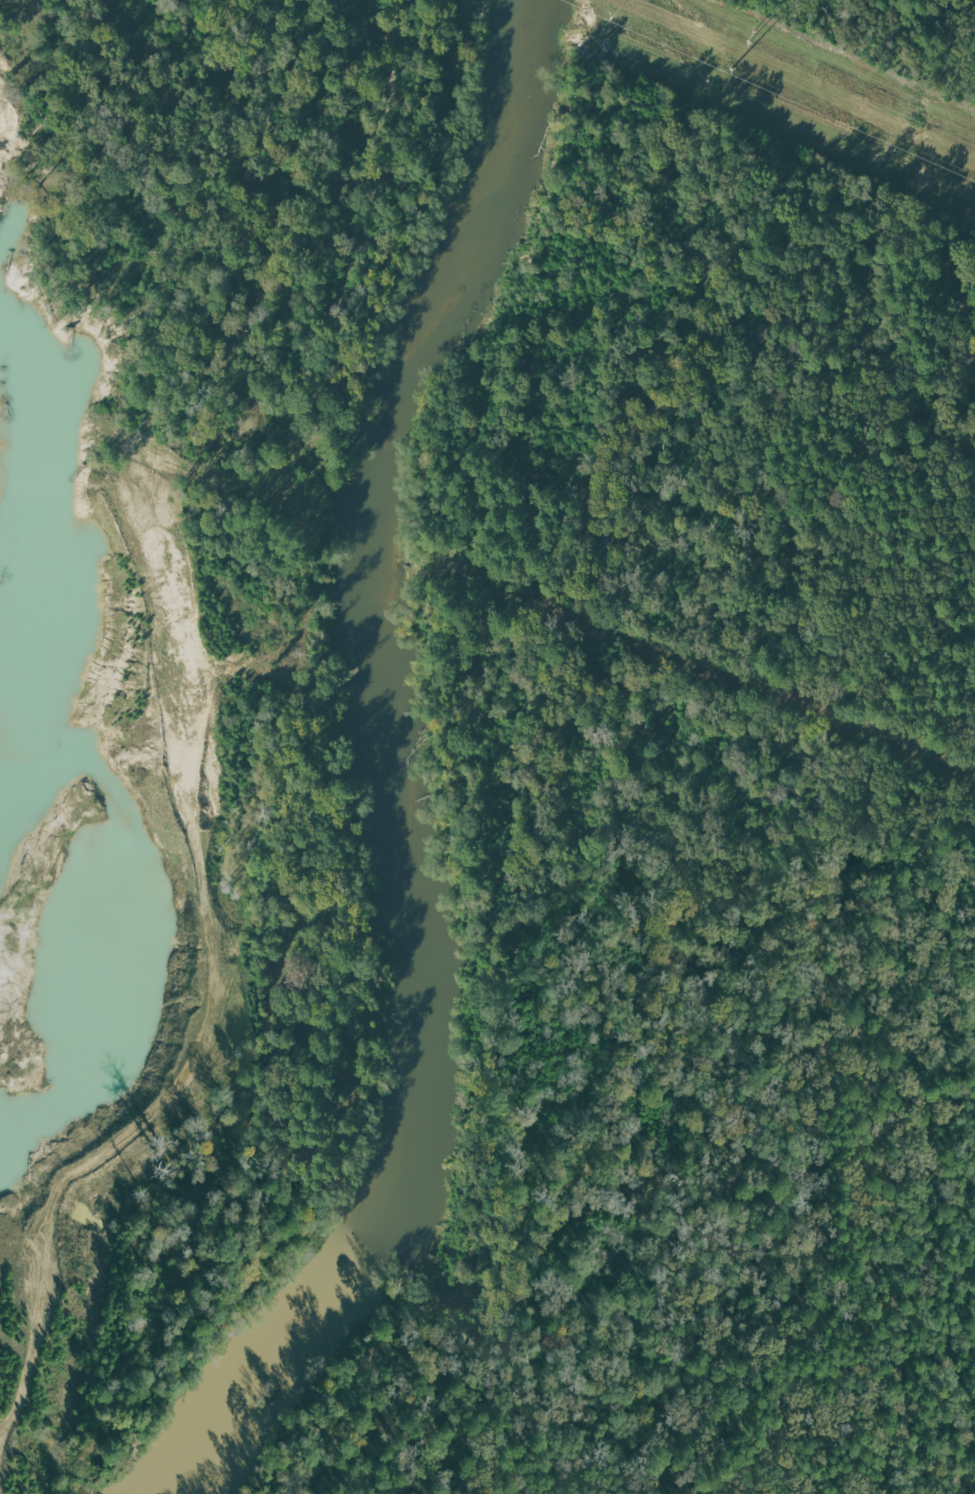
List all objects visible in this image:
power tower: (751, 37)
river: (374, 767)
road: (491, 787)

